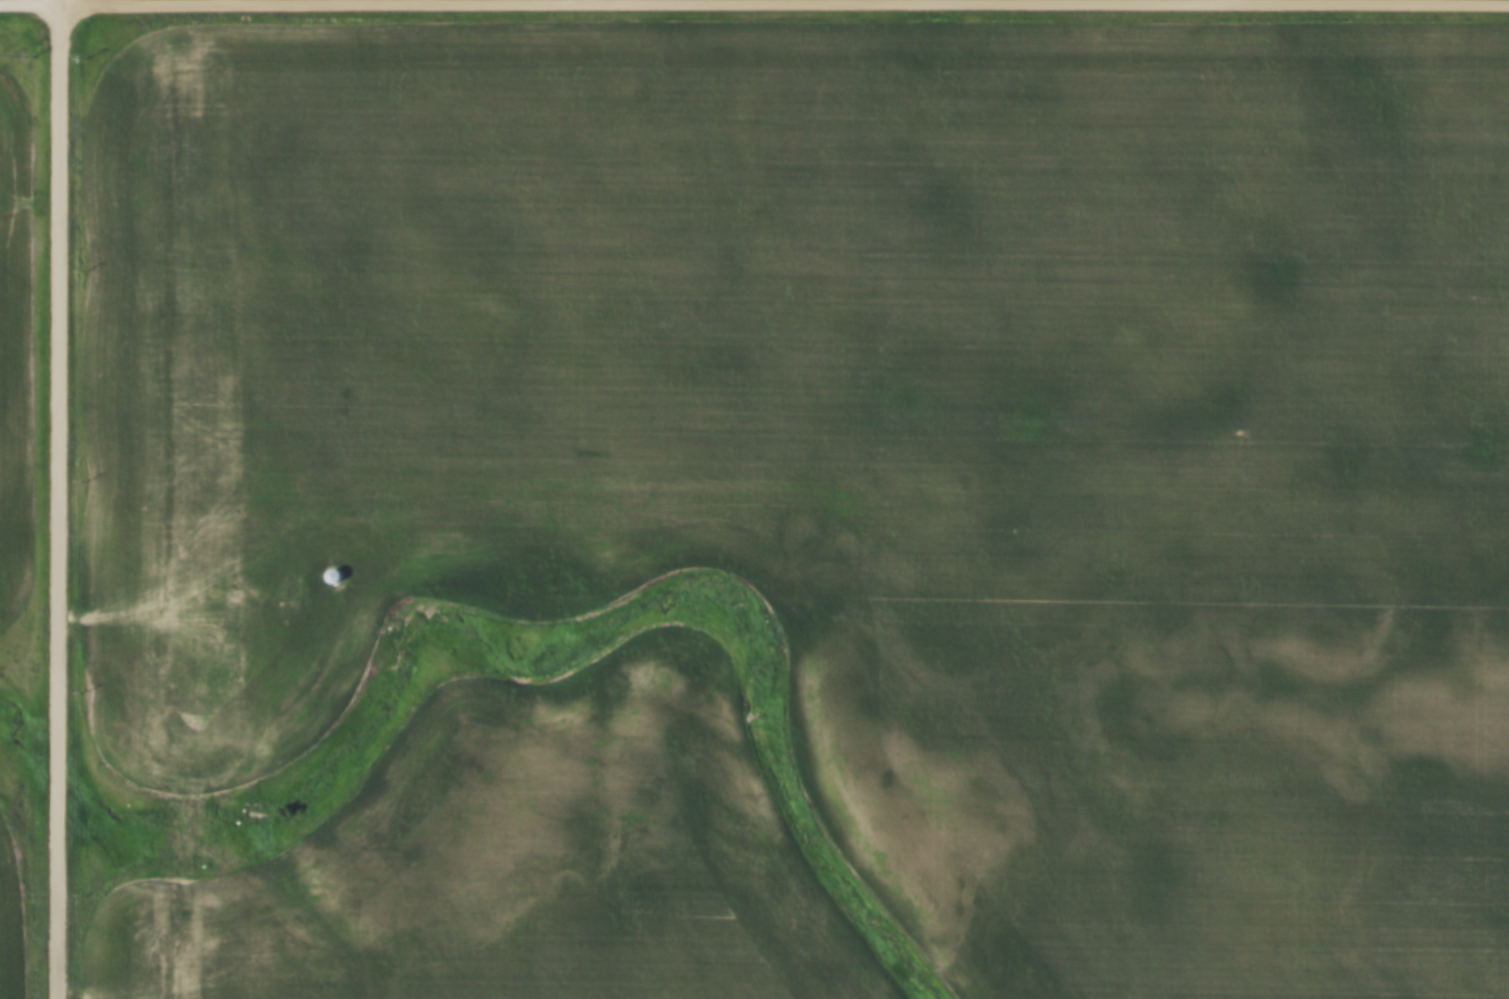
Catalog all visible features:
road: (31, 3)
road: (785, 3)
road: (60, 499)
building: (330, 568)
silo: (330, 568)
building: (335, 578)
road: (174, 607)

